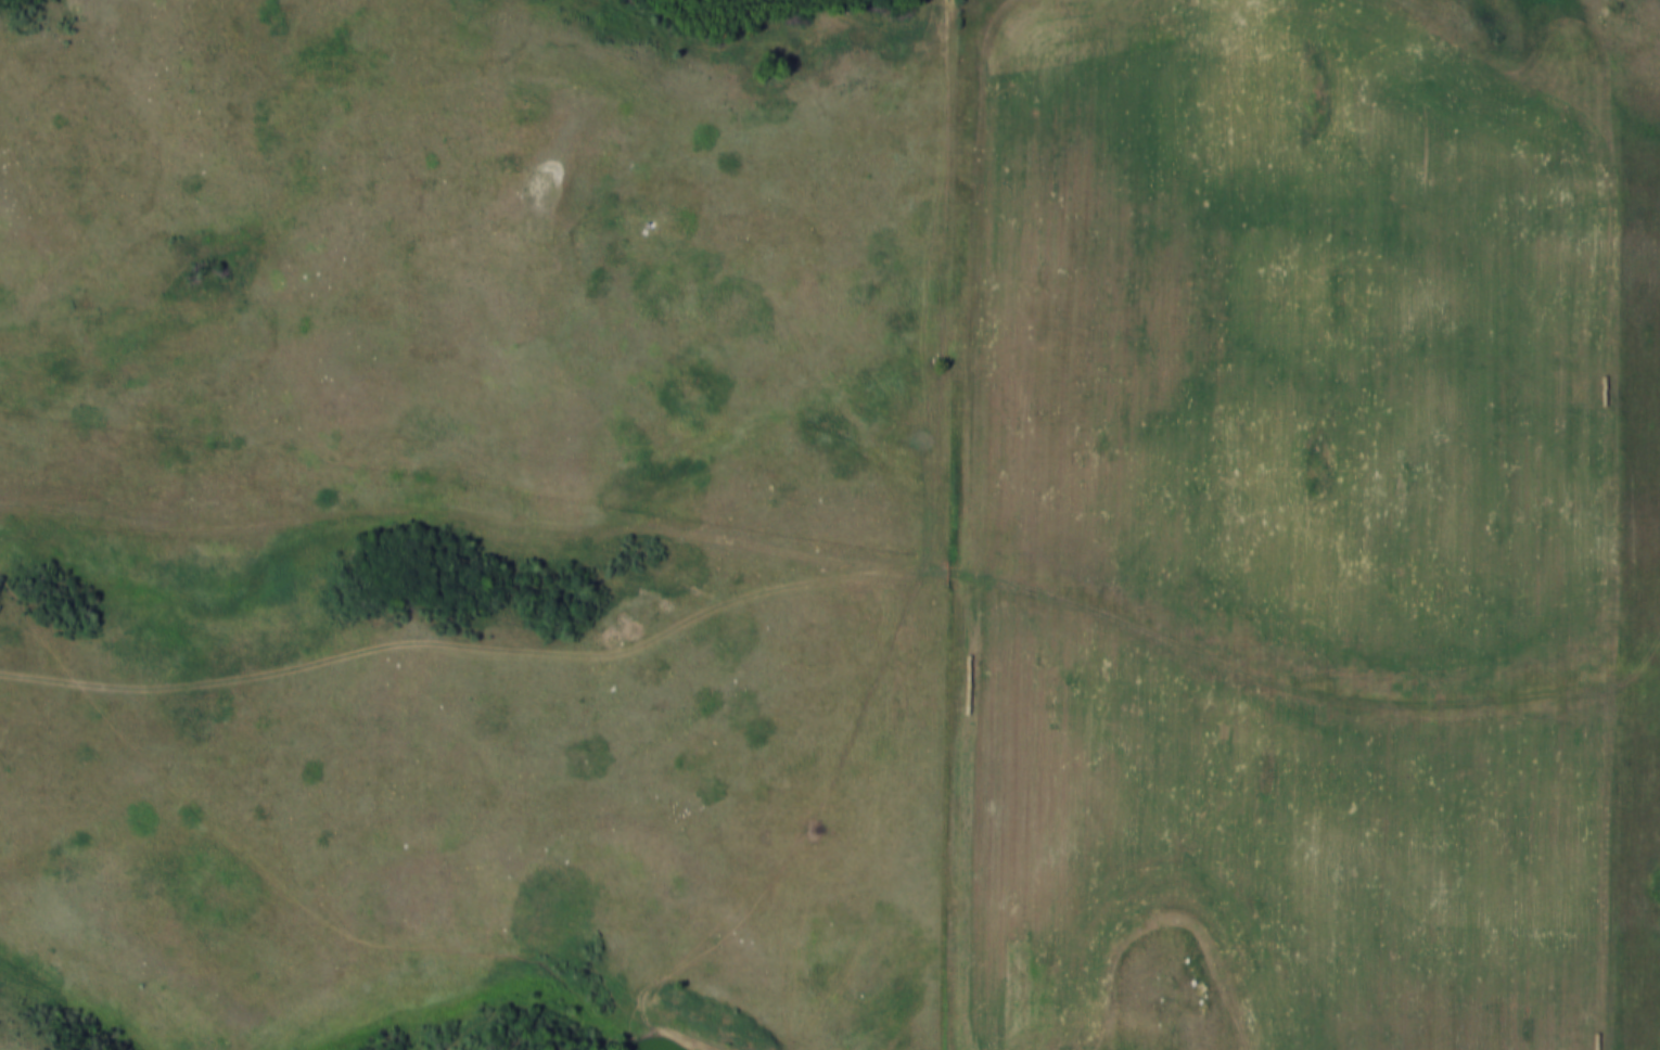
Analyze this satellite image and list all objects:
road: (452, 516)
road: (317, 667)

